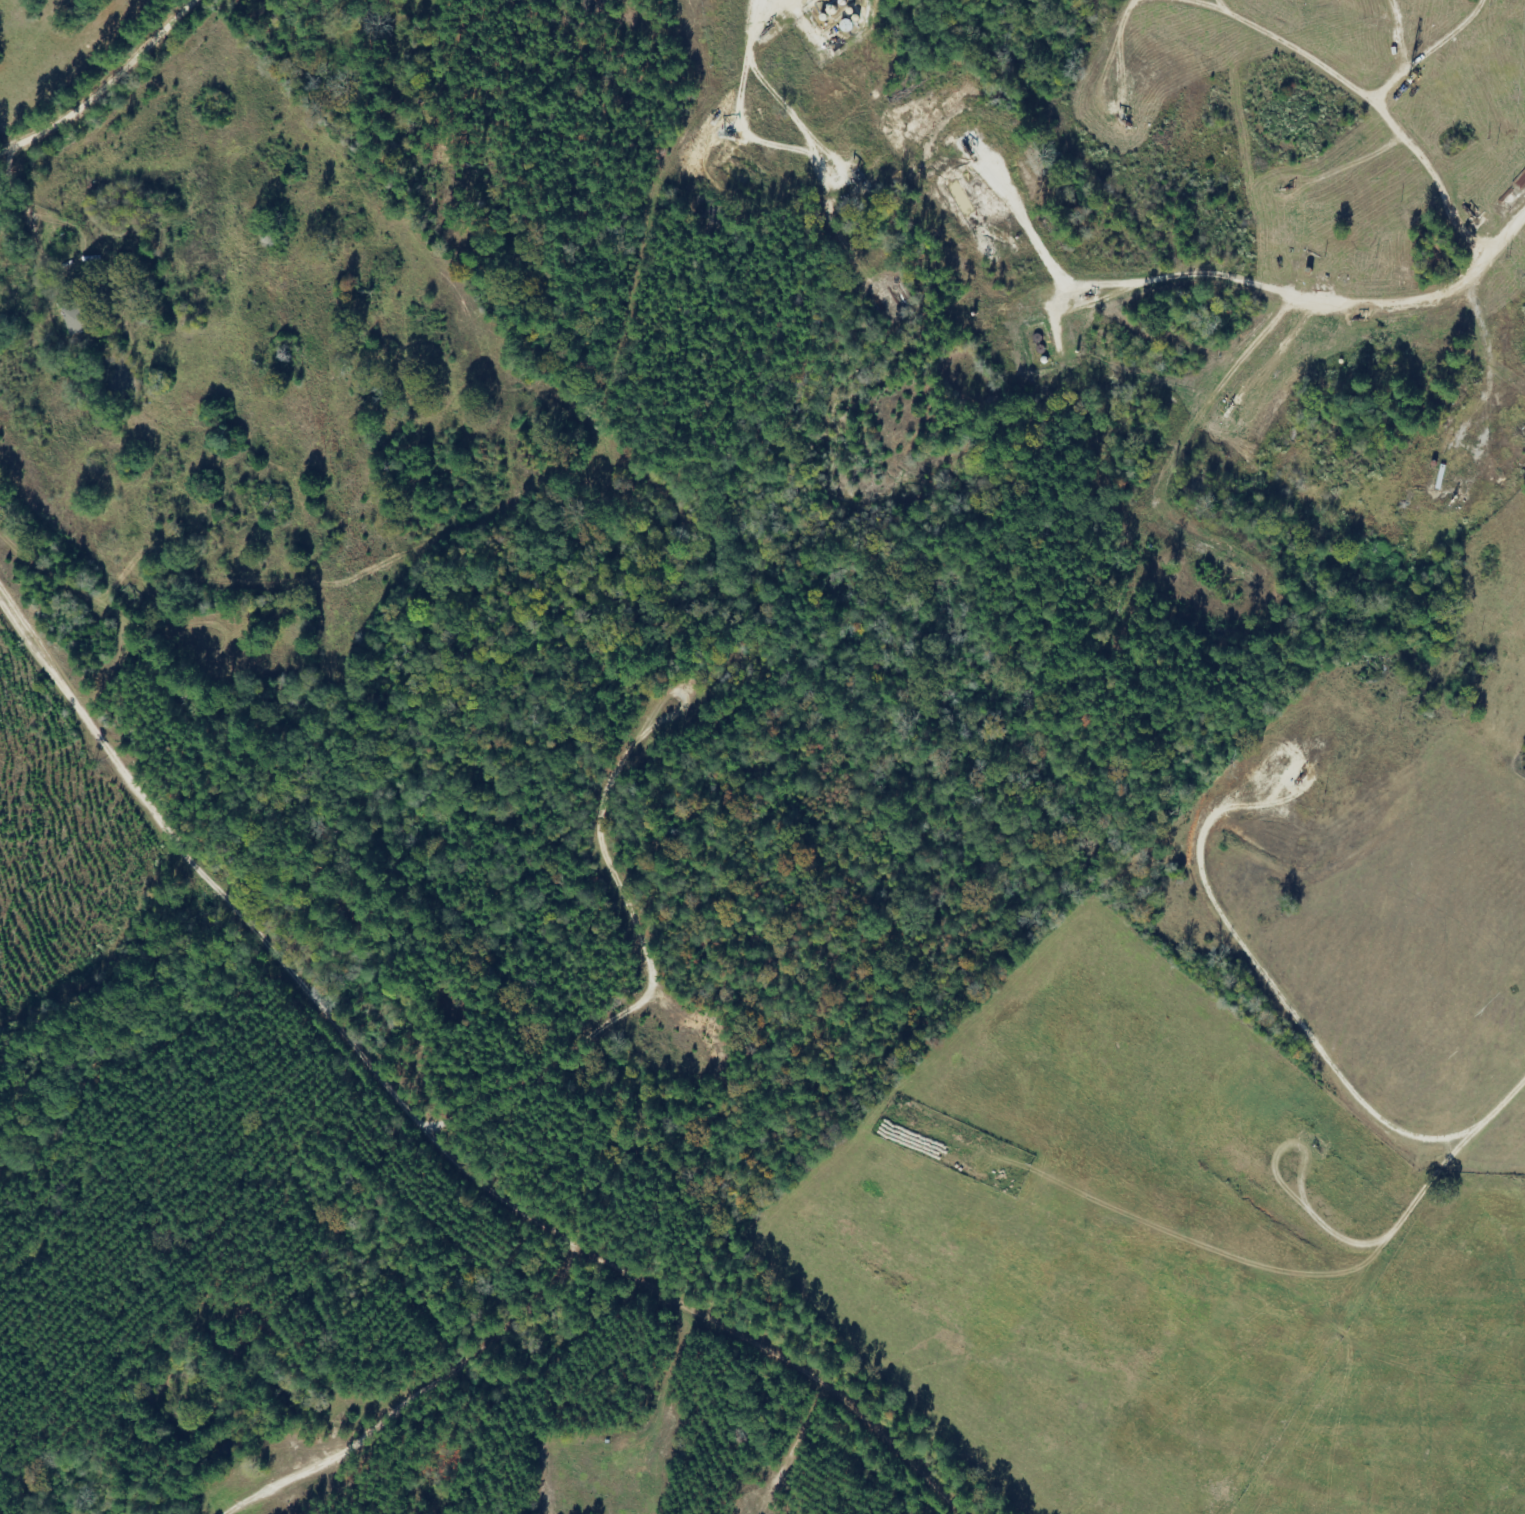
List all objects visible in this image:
road: (1293, 39)
road: (109, 79)
road: (1425, 120)
road: (786, 134)
building: (84, 318)
road: (1463, 327)
road: (436, 1097)
road: (413, 1381)

